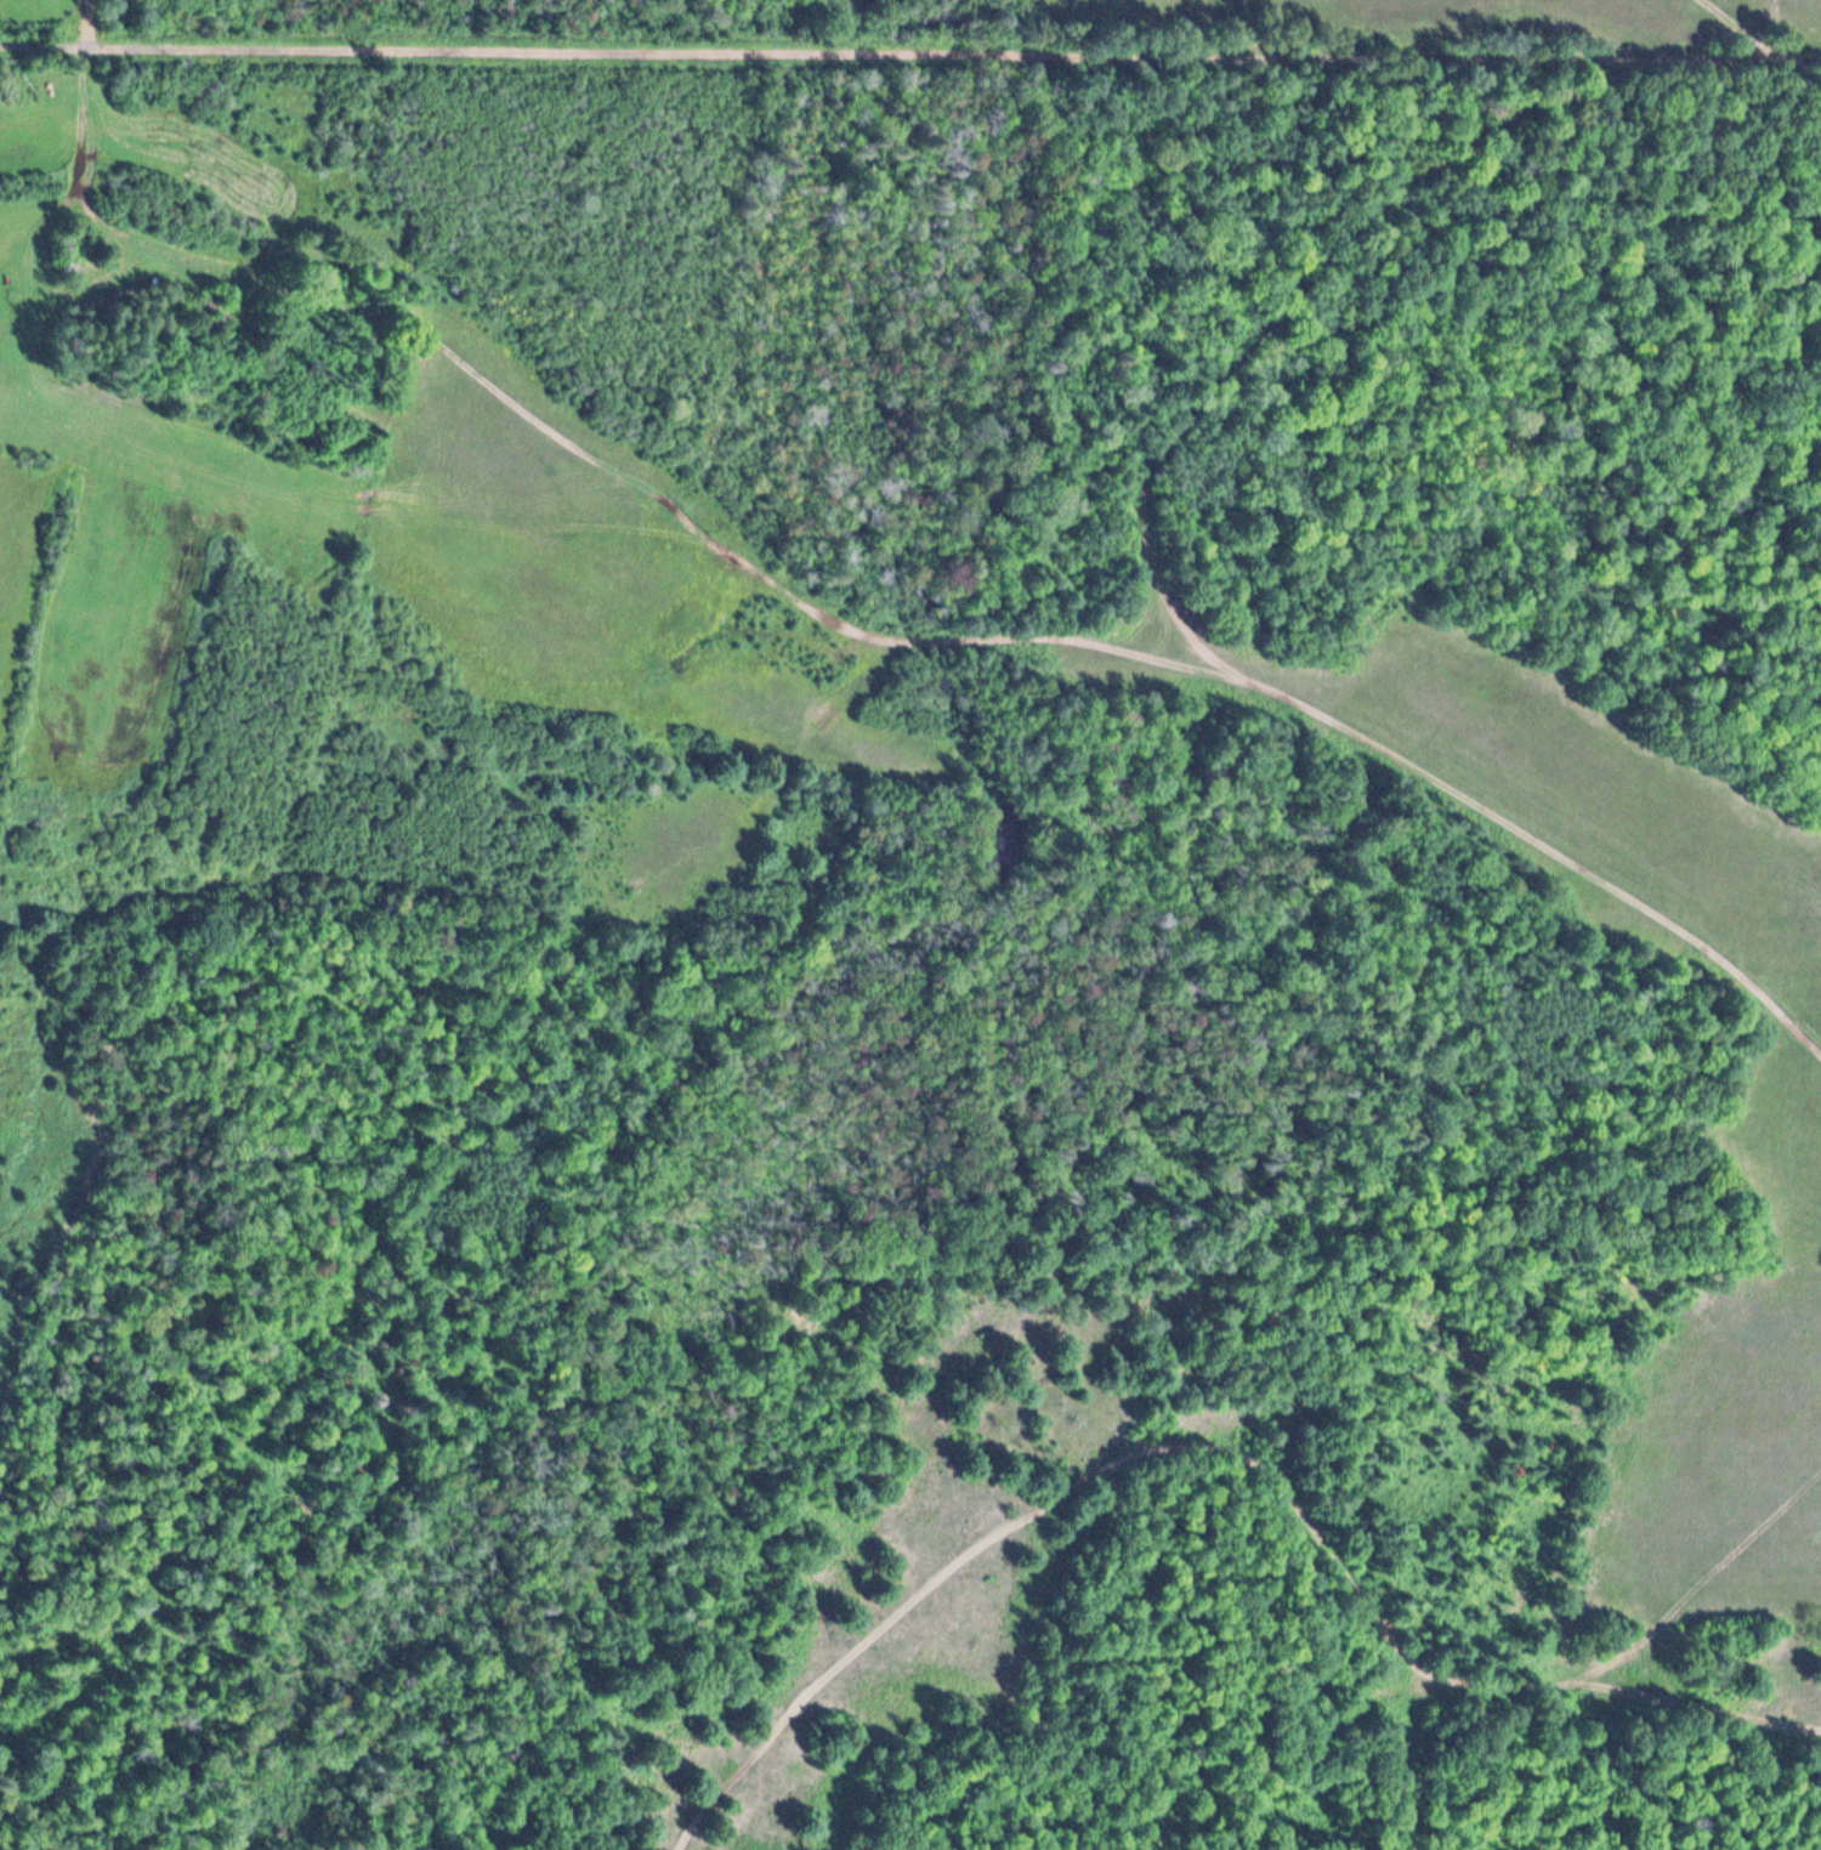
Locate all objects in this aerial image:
road: (909, 53)
road: (852, 624)
road: (1226, 1462)
road: (1702, 1590)

